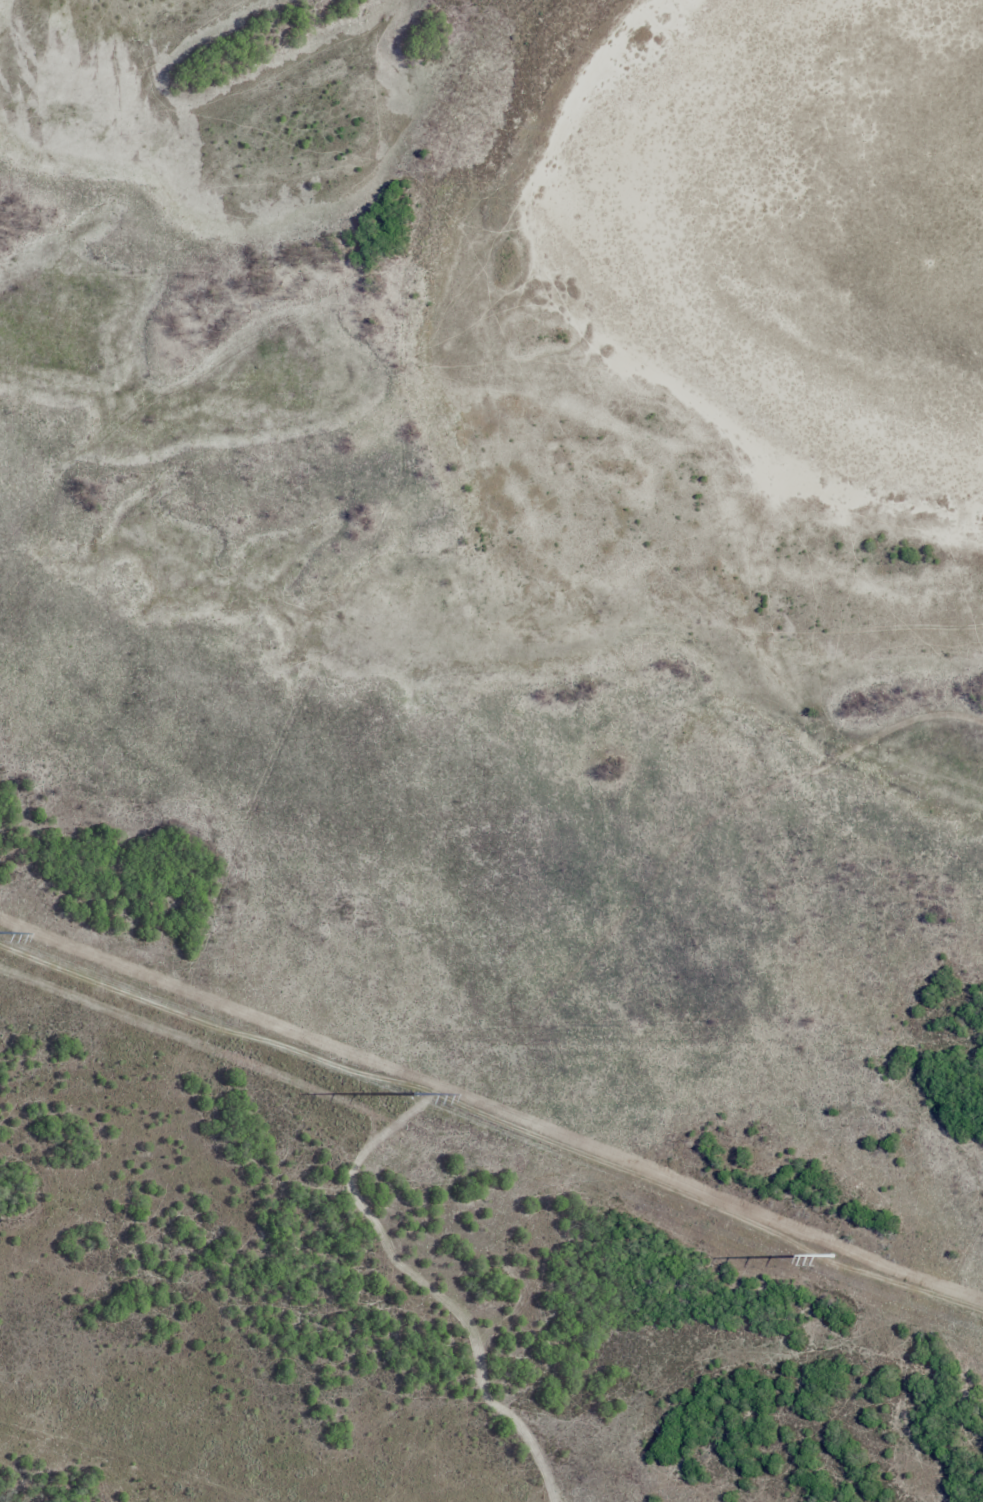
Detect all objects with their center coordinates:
power tower: (425, 1098)
power tower: (838, 1260)
road: (257, 1395)

